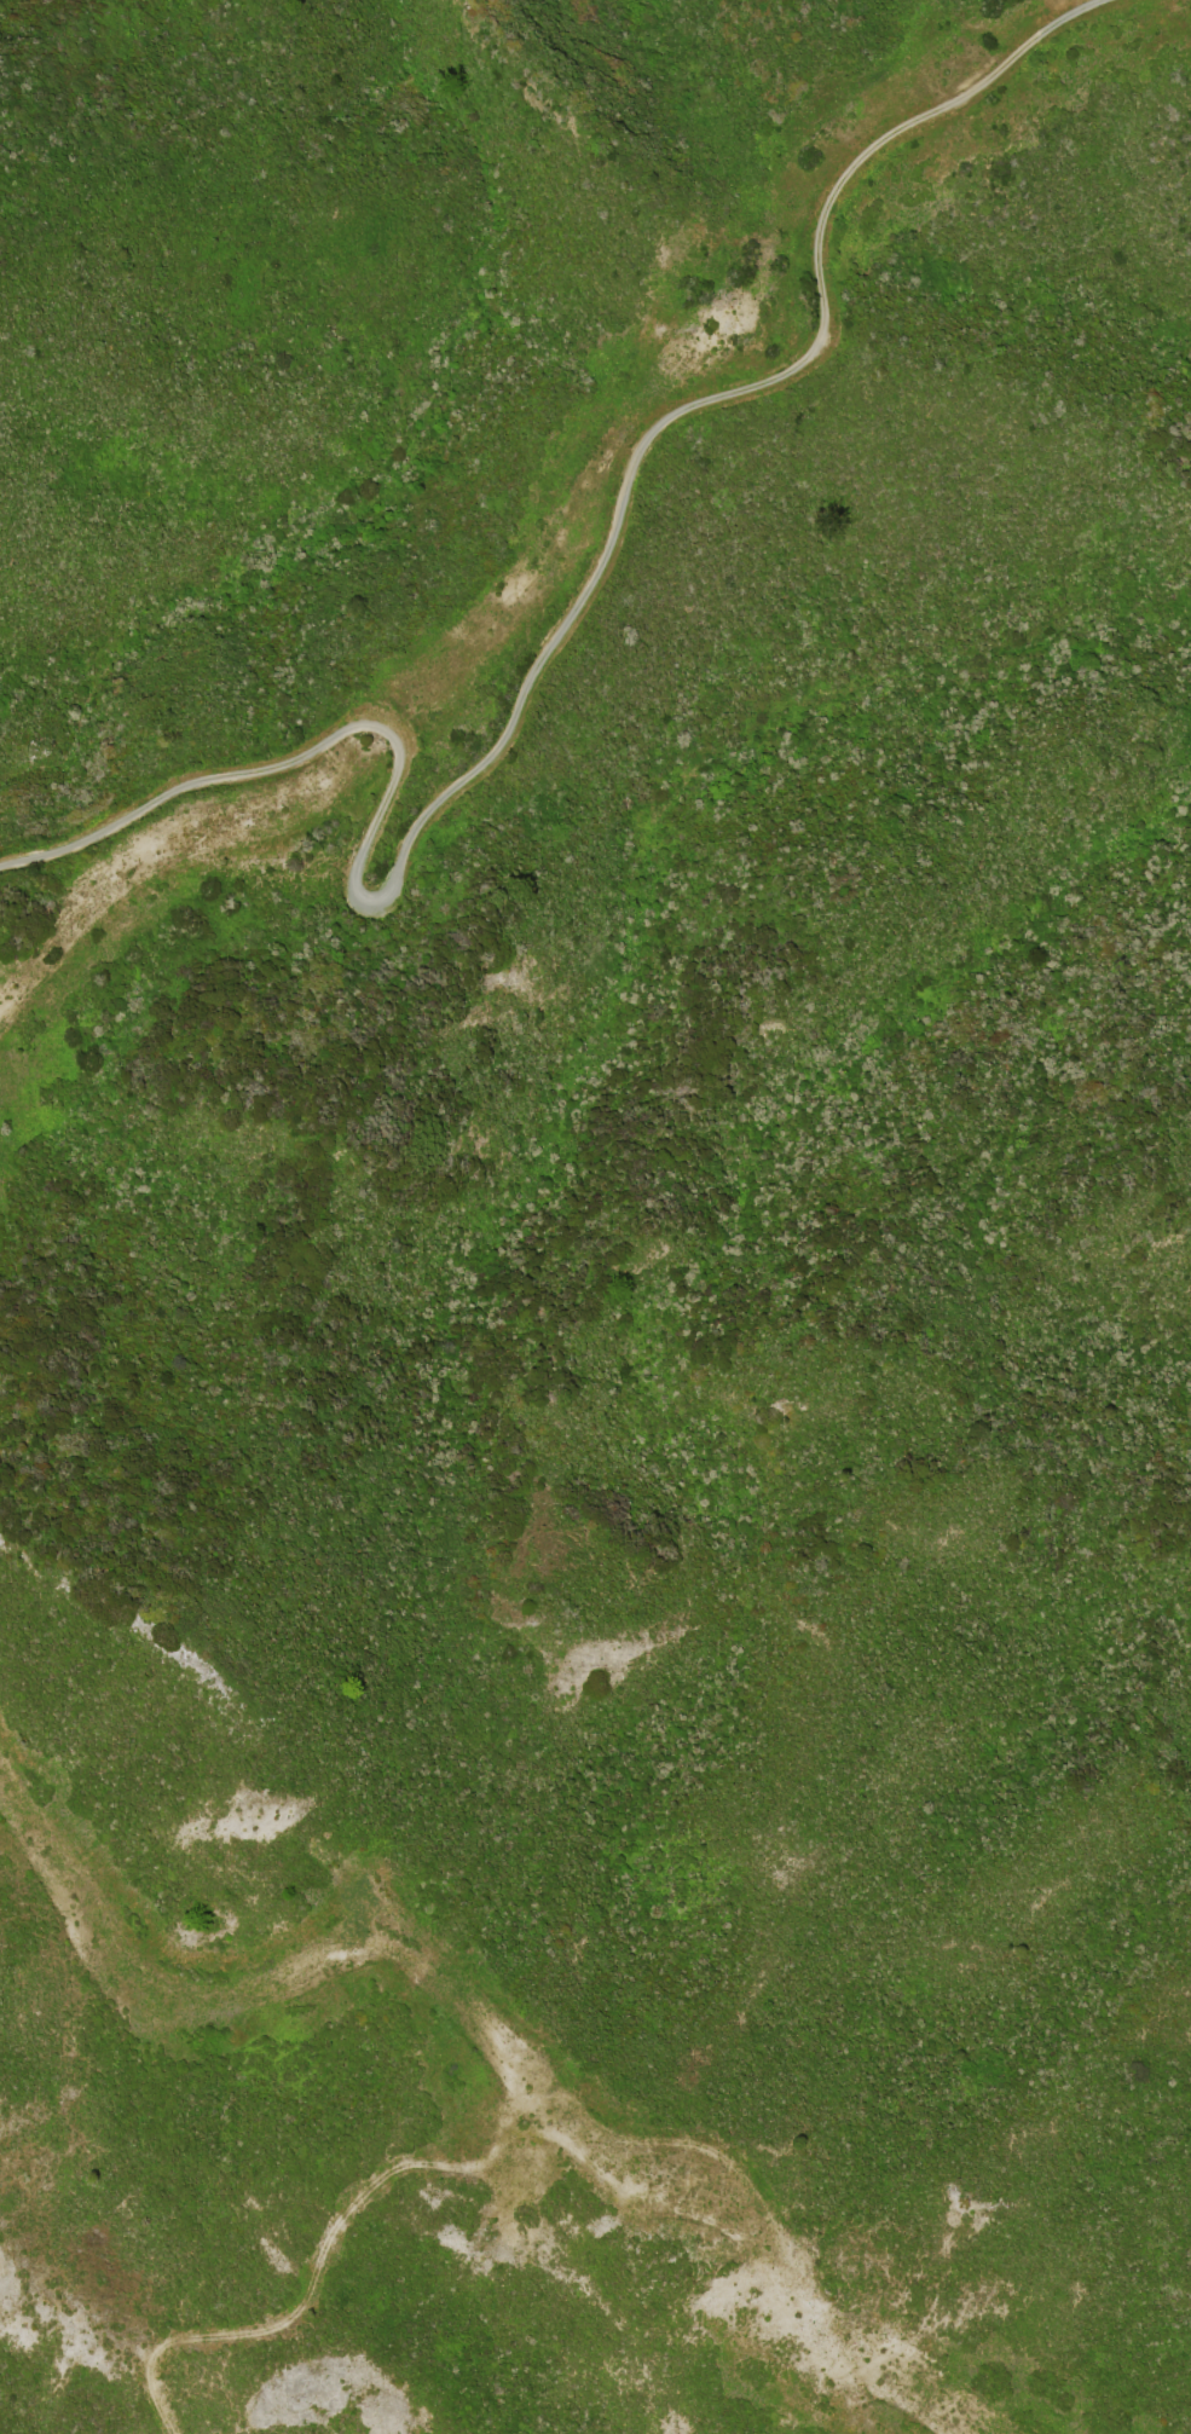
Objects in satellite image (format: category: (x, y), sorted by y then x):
road: (550, 640)

